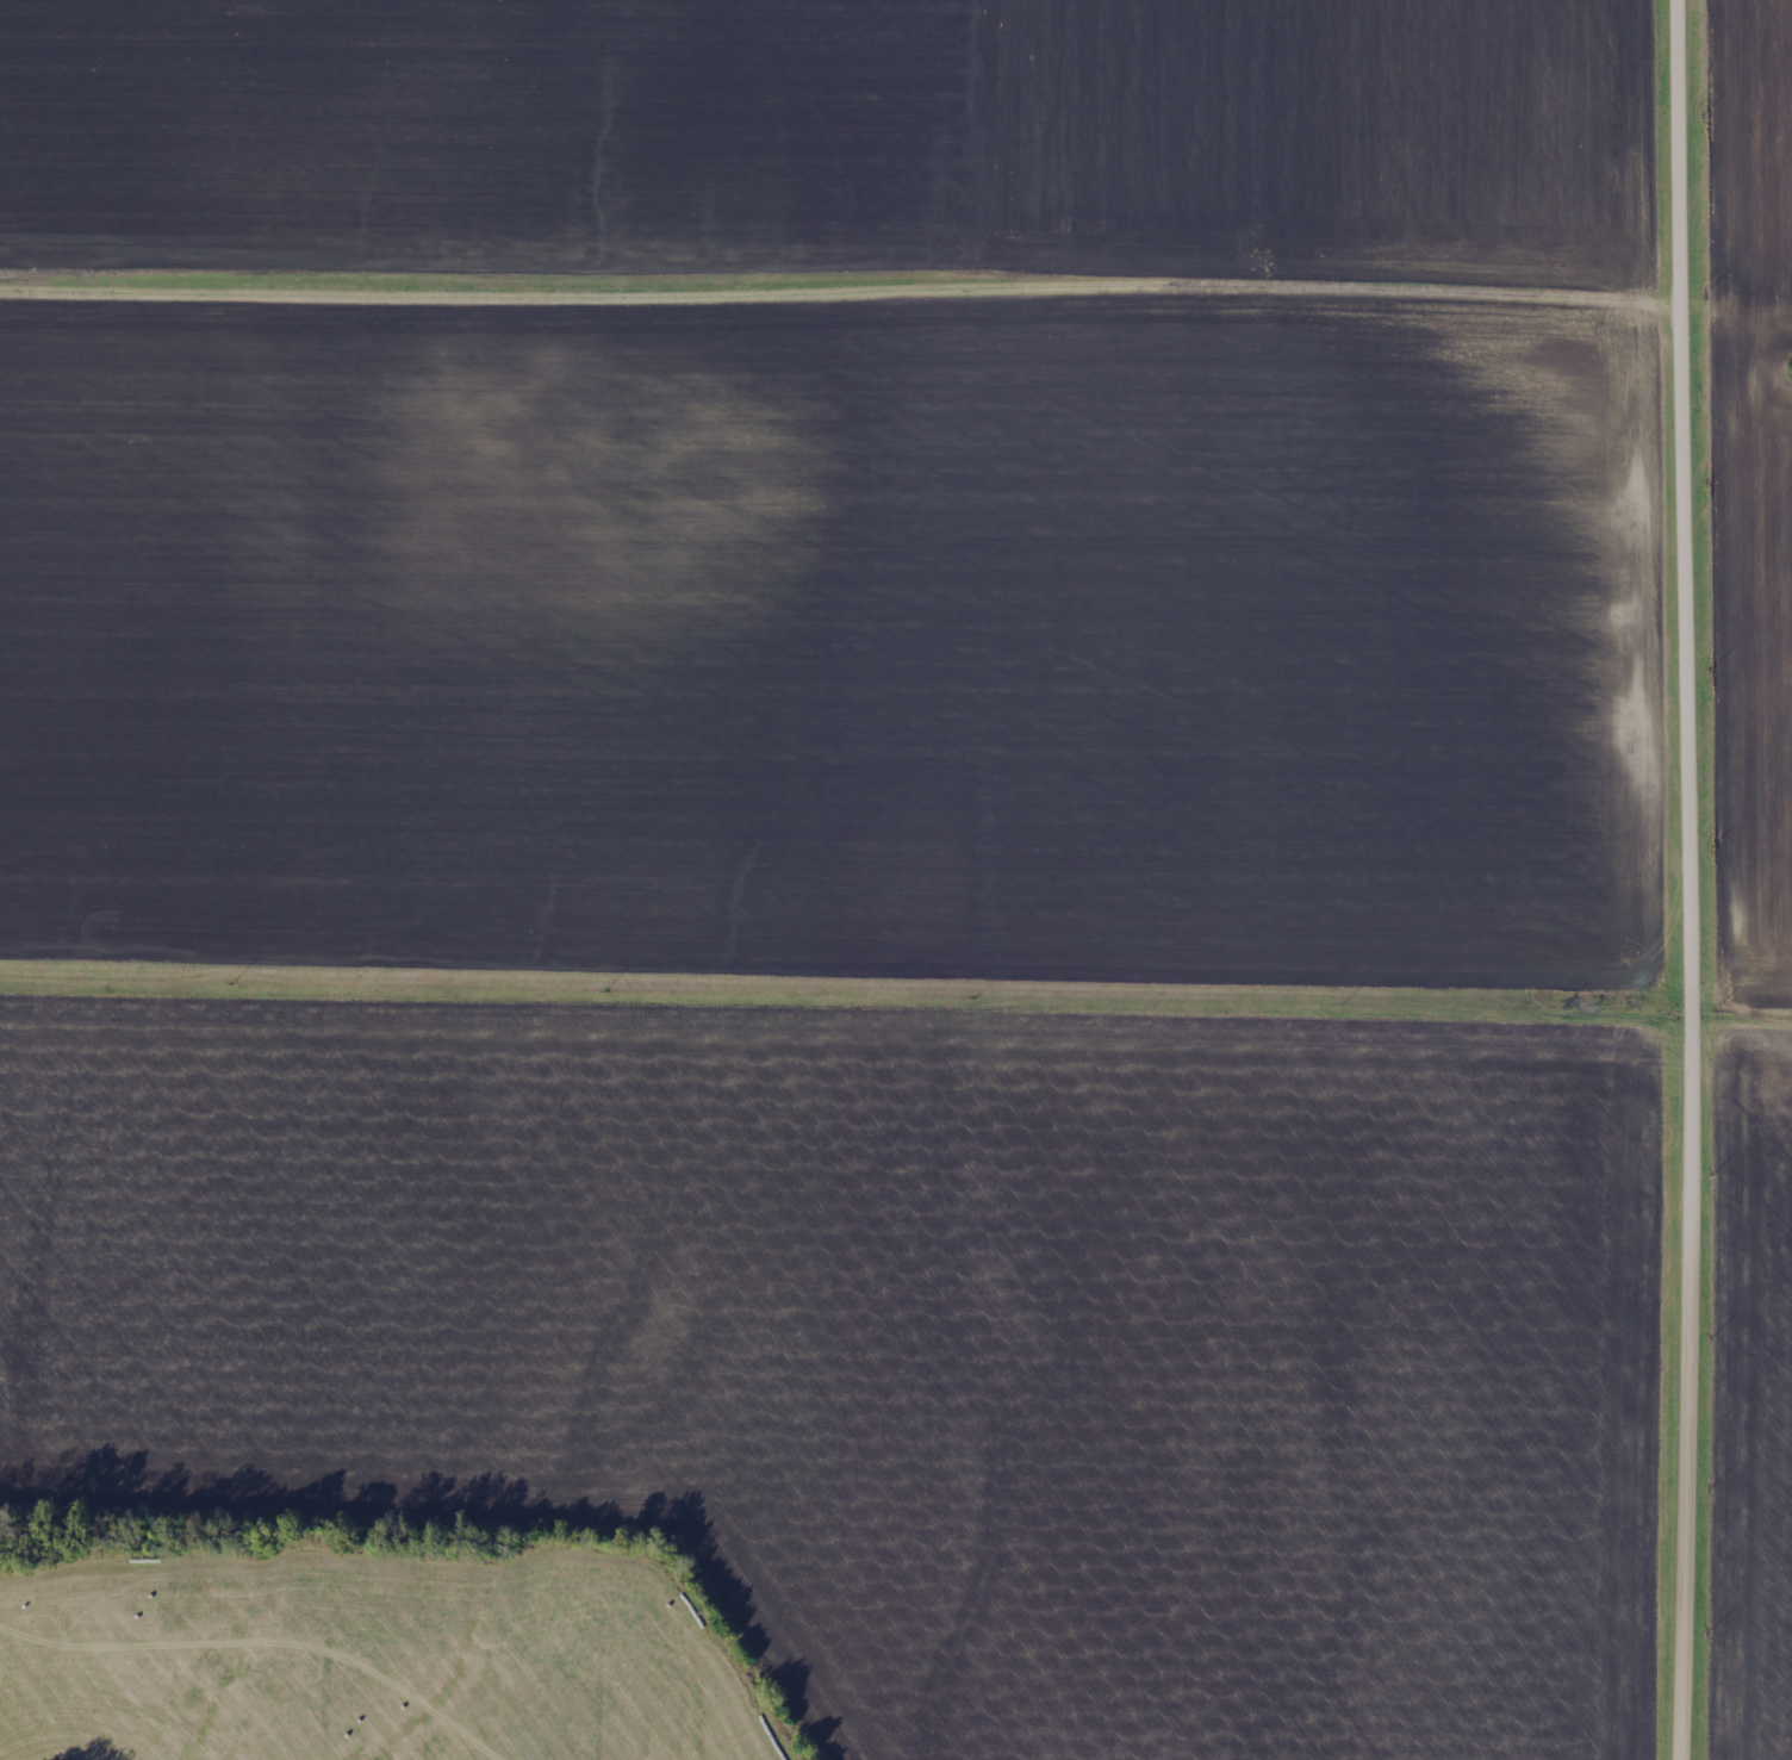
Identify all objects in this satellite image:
road: (835, 281)
road: (1665, 879)

